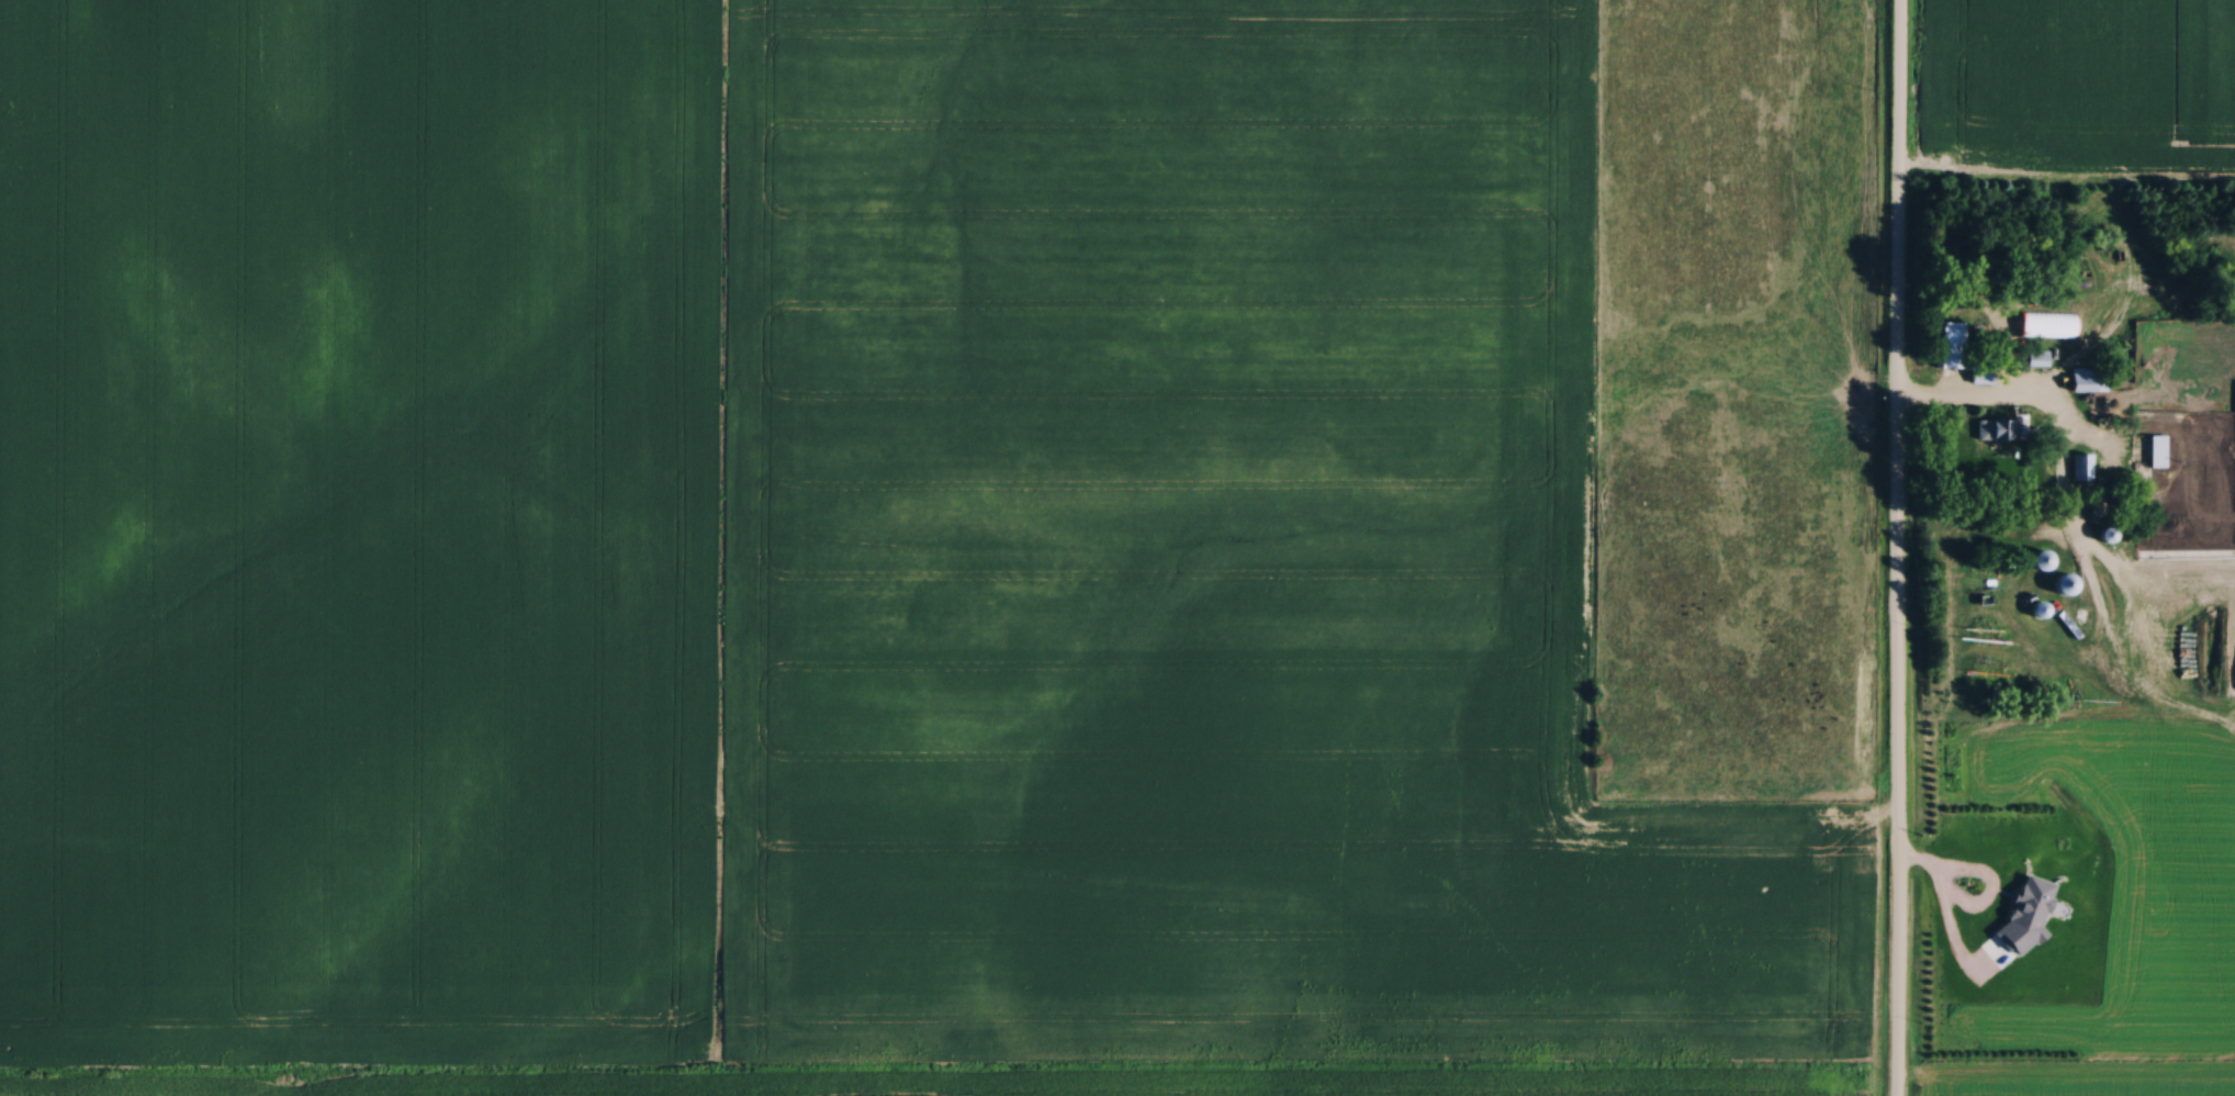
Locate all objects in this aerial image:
building: (2045, 325)
building: (1947, 344)
building: (2036, 359)
building: (2087, 380)
road: (1961, 400)
building: (1993, 429)
building: (2157, 451)
building: (2081, 465)
road: (1897, 547)
building: (2036, 561)
building: (2059, 584)

